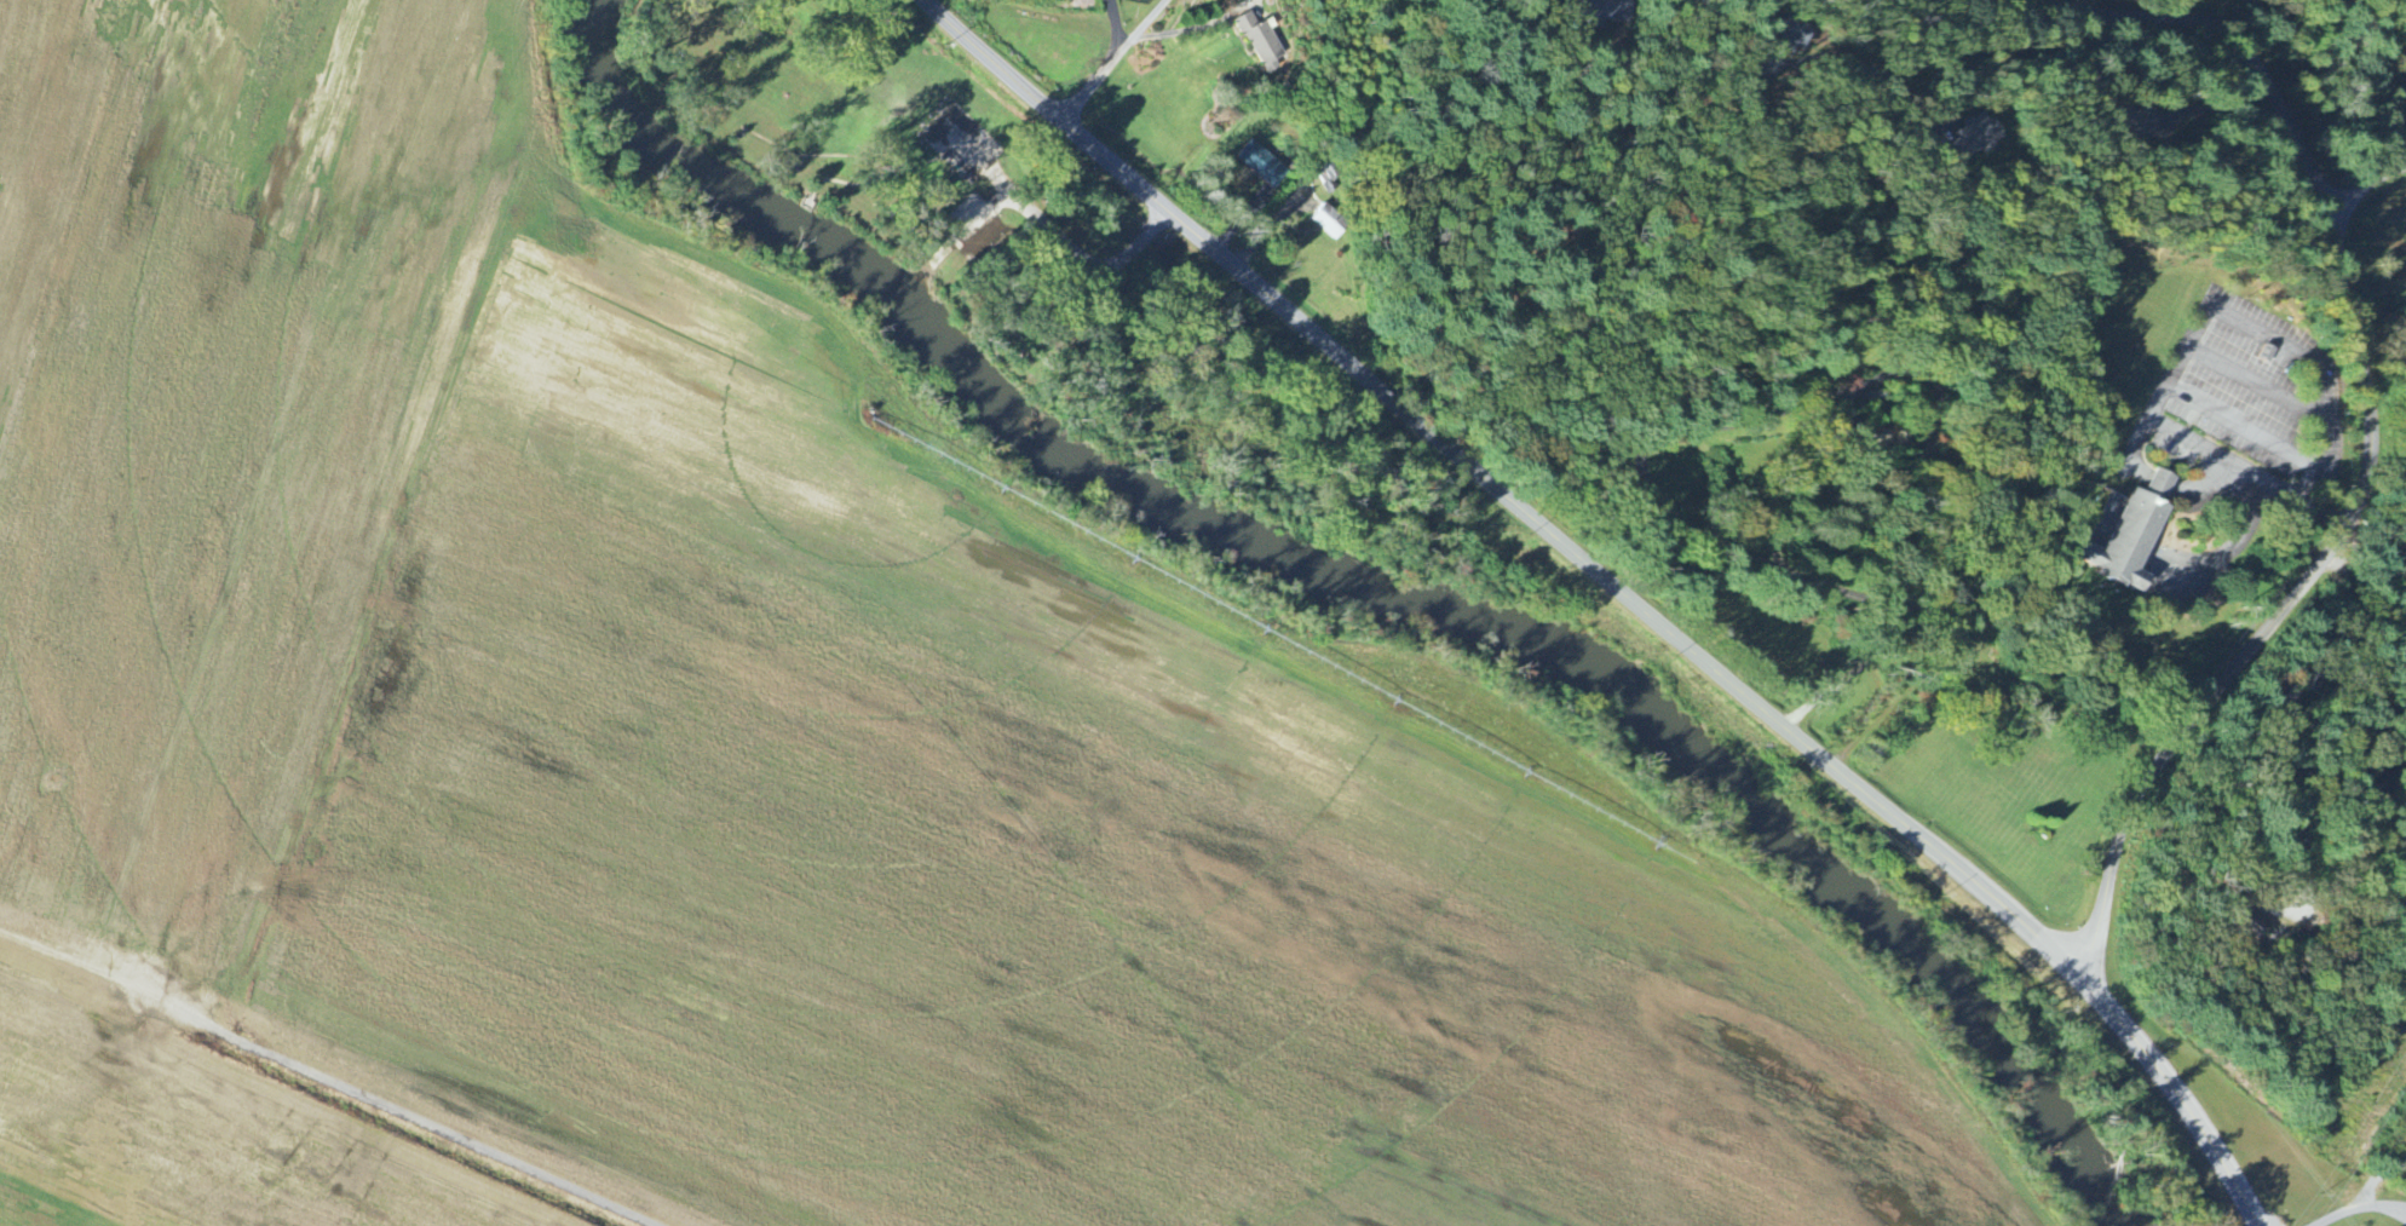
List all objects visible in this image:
road: (1115, 24)
road: (2239, 44)
building: (1257, 45)
road: (1112, 61)
road: (1884, 75)
road: (743, 132)
building: (1965, 138)
parking lot: (962, 140)
road: (974, 152)
road: (810, 155)
road: (802, 160)
road: (929, 160)
building: (1260, 165)
river: (703, 179)
road: (847, 183)
road: (2368, 183)
road: (906, 196)
road: (925, 198)
road: (808, 200)
road: (980, 217)
building: (1328, 221)
parking lot: (973, 226)
road: (936, 260)
road: (1086, 260)
road: (990, 289)
road: (985, 297)
road: (2188, 345)
road: (1905, 405)
road: (2240, 533)
building: (2123, 537)
building: (2143, 559)
road: (1778, 581)
road: (1617, 592)
road: (2284, 608)
river: (1579, 662)
road: (1848, 672)
road: (2326, 731)
building: (2232, 925)
road: (437, 1130)
road: (2359, 1208)

